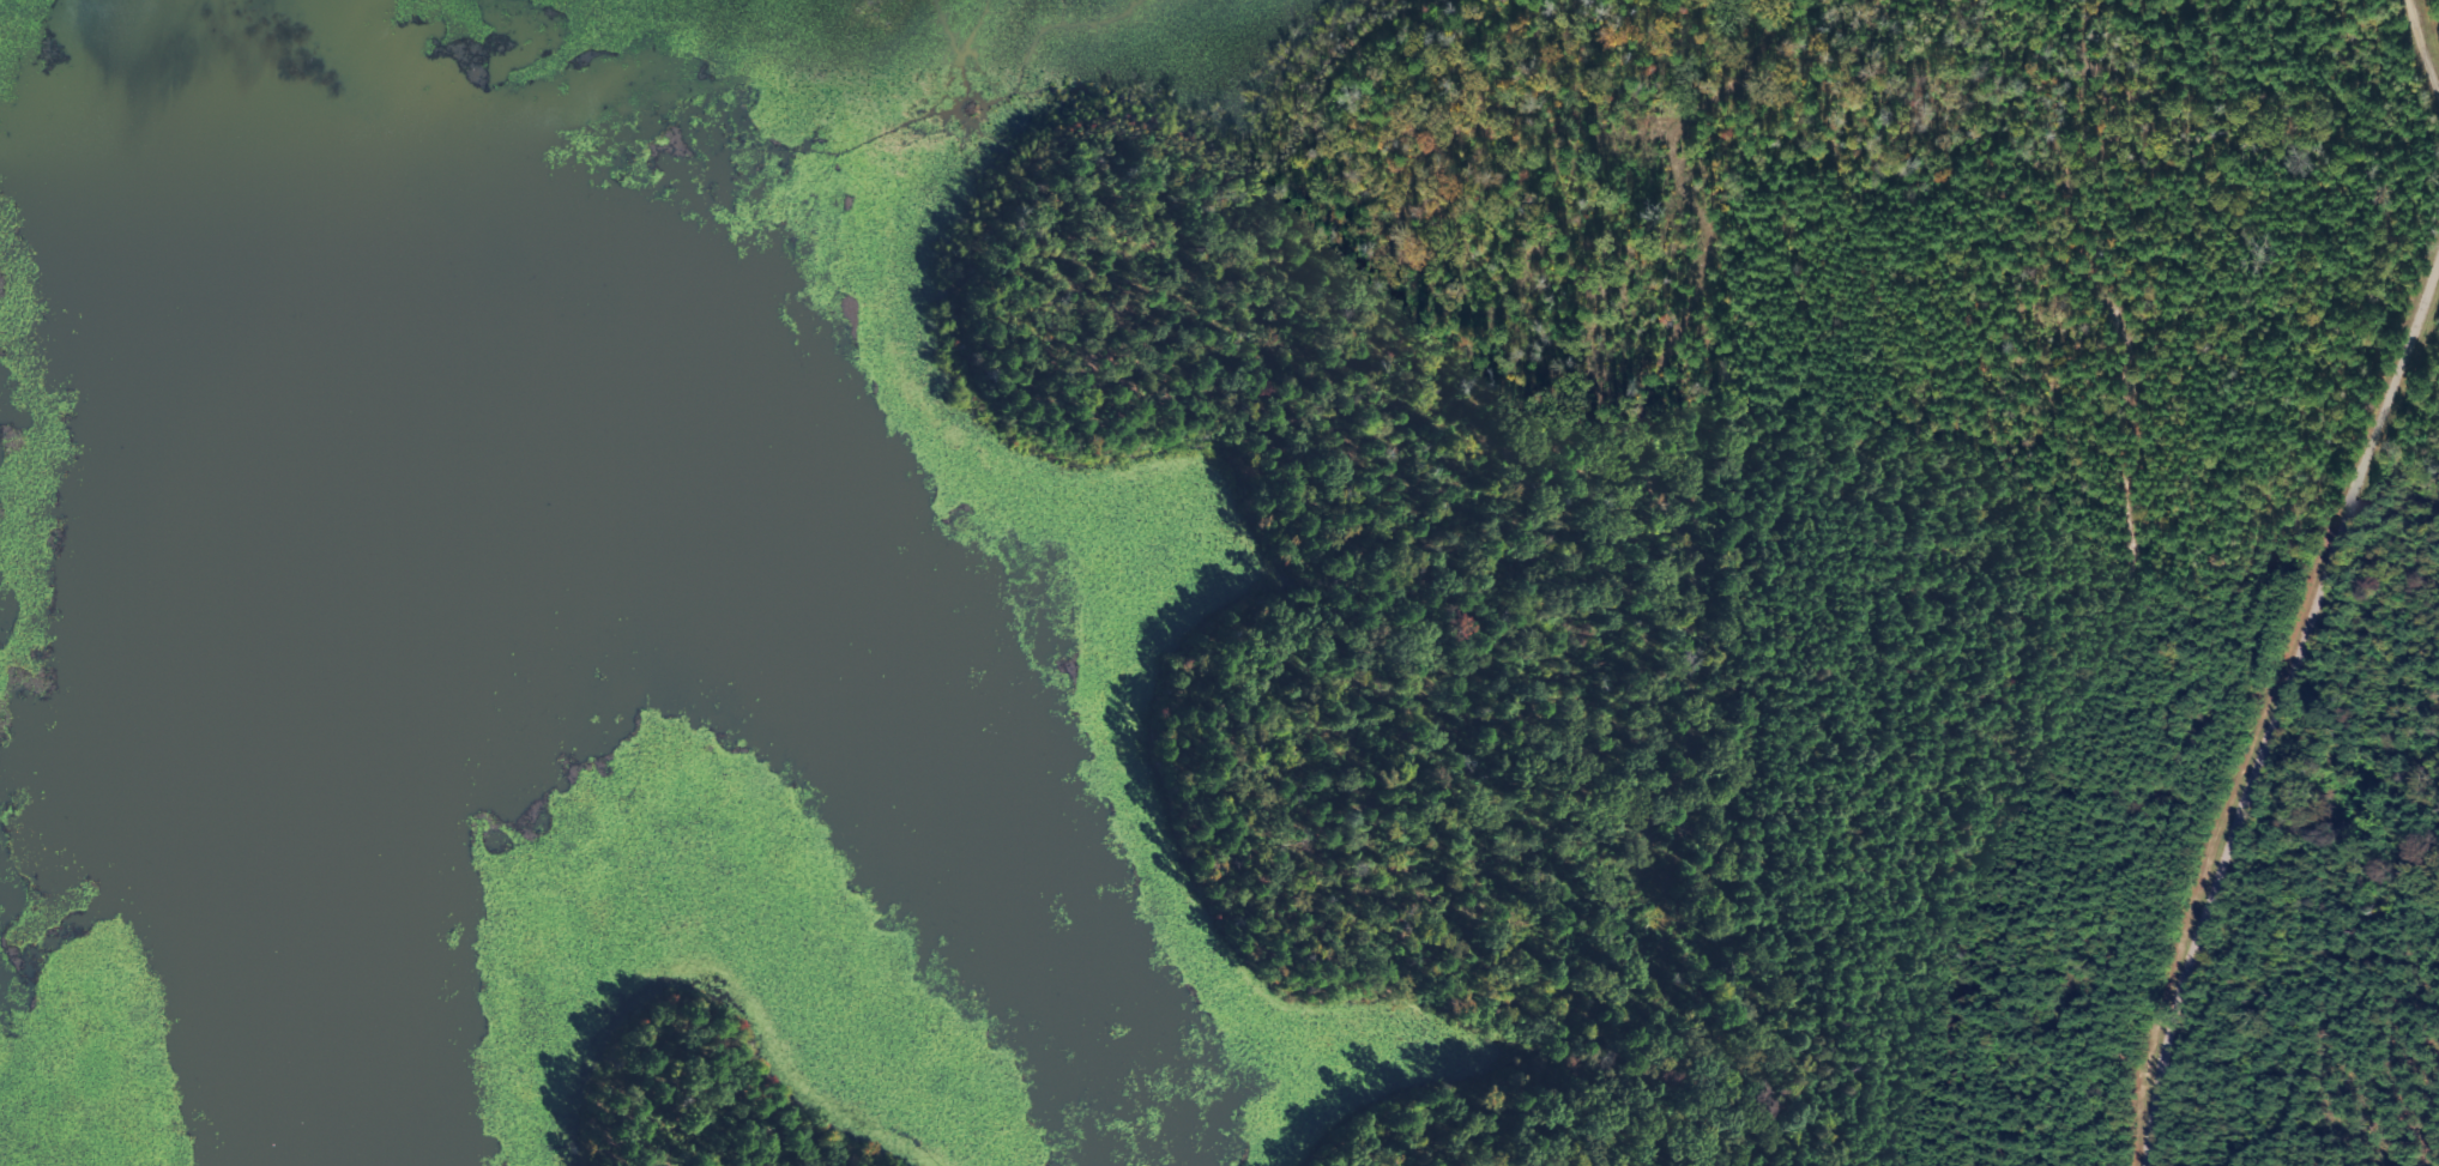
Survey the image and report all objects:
road: (2433, 19)
road: (2283, 718)

